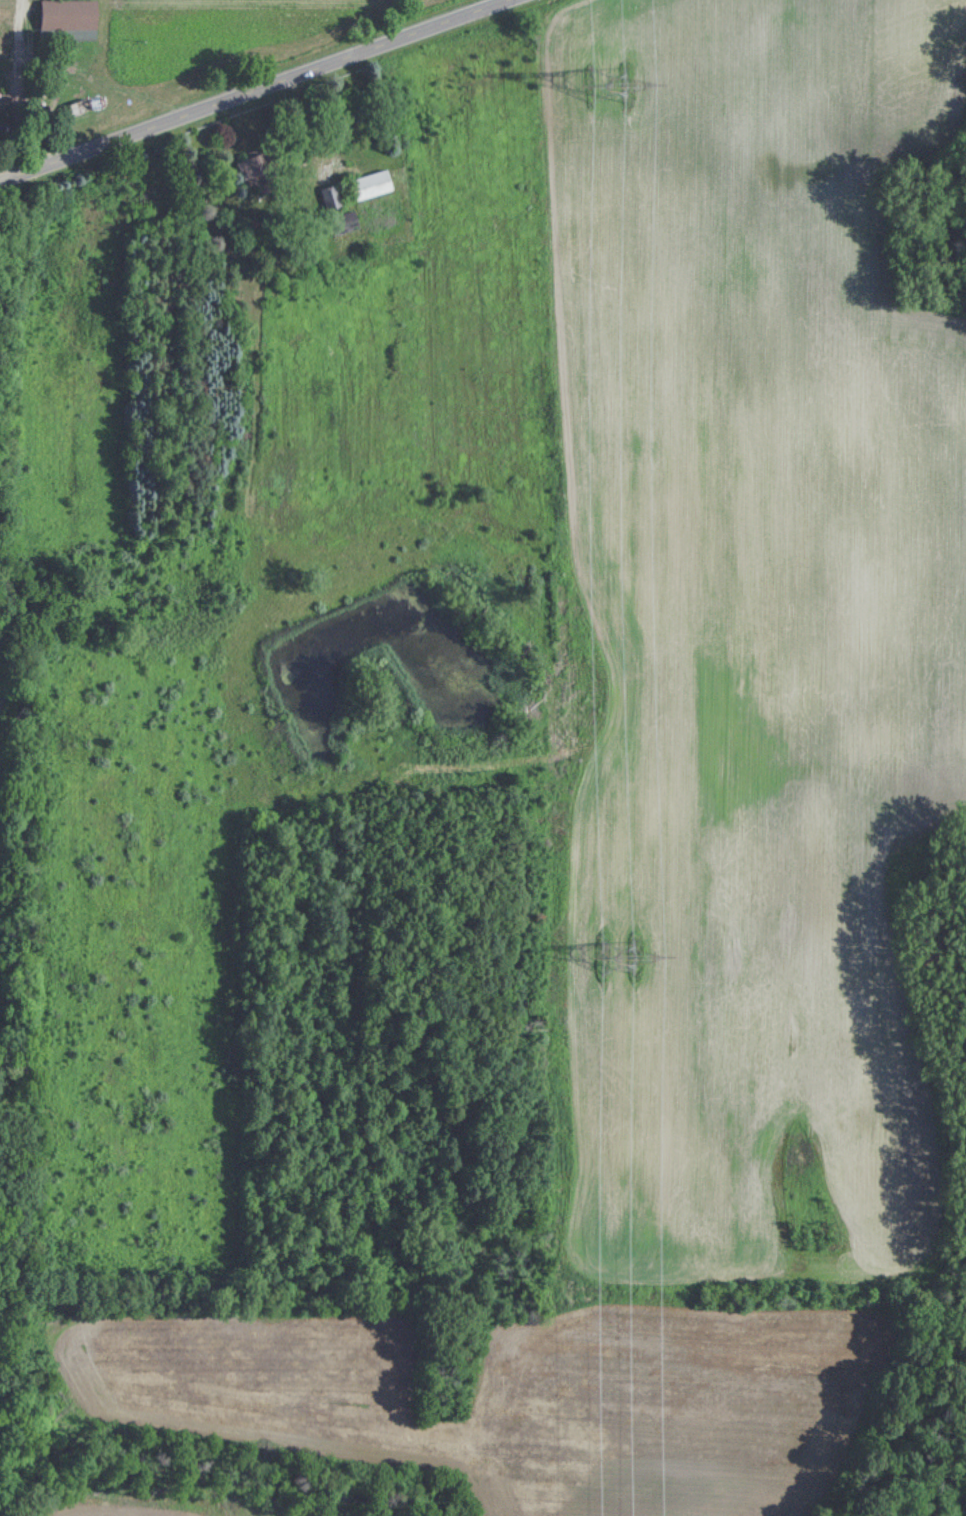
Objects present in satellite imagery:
building: (69, 14)
power tower: (609, 82)
road: (260, 92)
building: (80, 106)
building: (256, 173)
building: (372, 185)
building: (330, 198)
building: (345, 223)
power tower: (616, 952)

